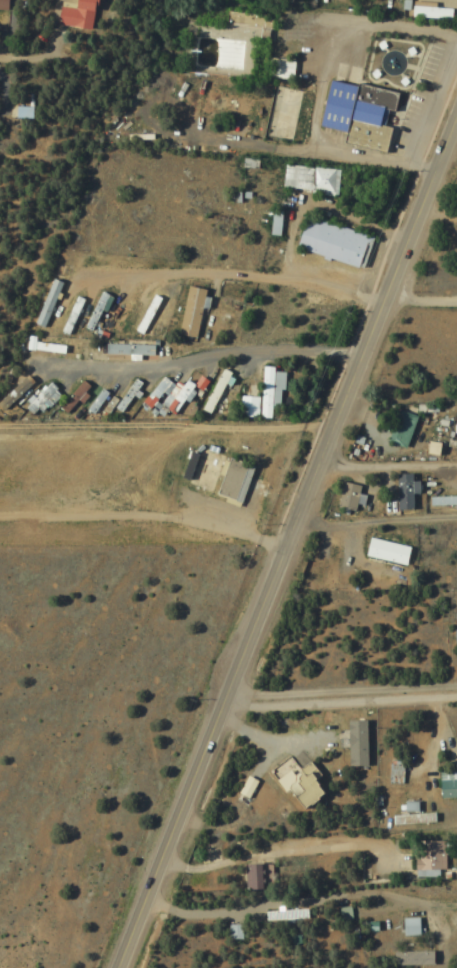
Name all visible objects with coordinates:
building: (282, 0)
building: (3, 5)
building: (74, 14)
building: (248, 27)
building: (277, 68)
building: (281, 79)
road: (315, 83)
parking lot: (424, 98)
building: (225, 101)
building: (354, 113)
road: (298, 160)
building: (307, 179)
building: (330, 242)
road: (231, 274)
road: (421, 301)
building: (46, 303)
building: (94, 310)
building: (188, 311)
building: (69, 315)
building: (144, 315)
building: (119, 318)
building: (48, 346)
building: (128, 349)
road: (196, 360)
building: (213, 390)
building: (13, 393)
building: (262, 395)
building: (165, 396)
building: (72, 397)
building: (38, 398)
building: (98, 402)
building: (399, 428)
road: (386, 463)
building: (187, 466)
building: (218, 475)
building: (402, 492)
building: (346, 496)
building: (451, 500)
road: (373, 519)
road: (284, 541)
building: (384, 551)
building: (327, 574)
road: (341, 686)
road: (338, 702)
building: (323, 742)
building: (357, 744)
building: (392, 772)
building: (446, 783)
building: (302, 788)
building: (410, 818)
road: (305, 844)
building: (427, 854)
building: (249, 875)
road: (298, 905)
building: (284, 915)
building: (407, 926)
building: (410, 957)
road: (287, 962)

